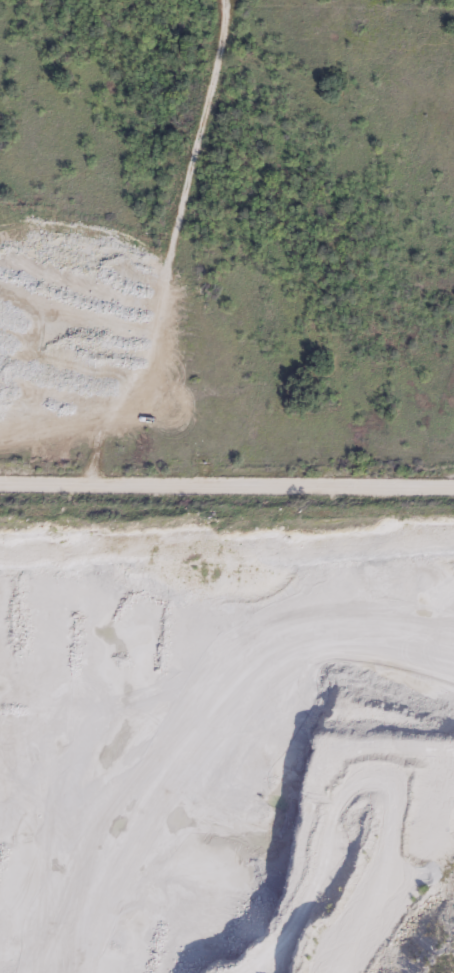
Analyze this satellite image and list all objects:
road: (227, 483)
quarry: (226, 739)

